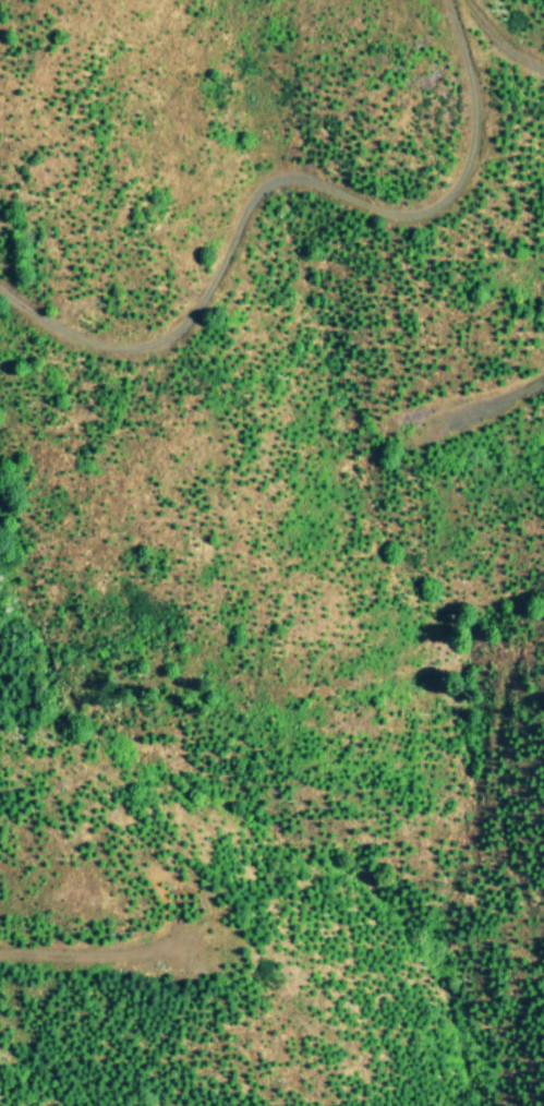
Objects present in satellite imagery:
road: (517, 25)
road: (287, 244)

